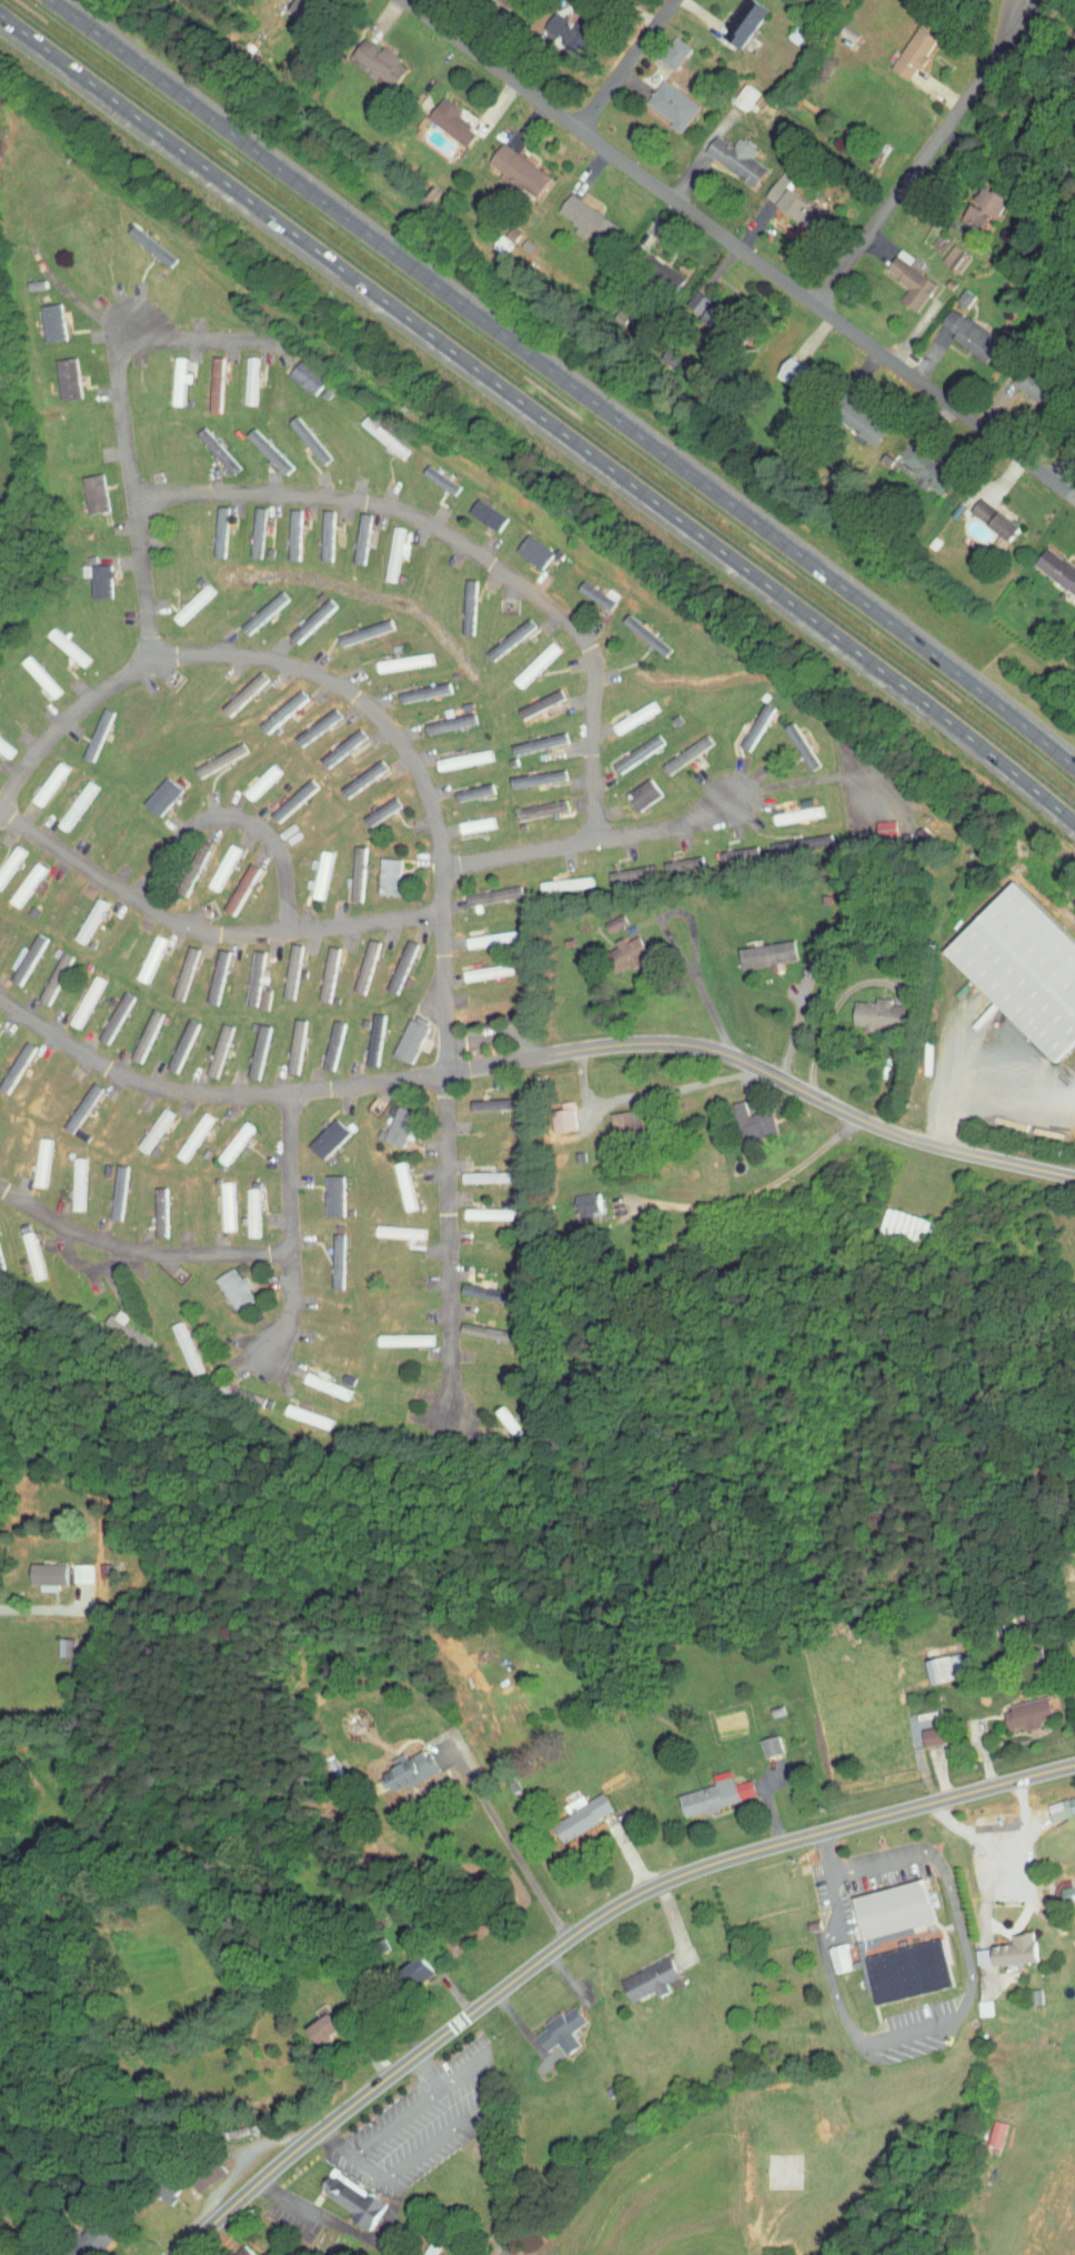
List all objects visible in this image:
building: (734, 18)
building: (562, 24)
building: (907, 46)
building: (664, 47)
building: (374, 57)
road: (623, 64)
building: (662, 98)
building: (443, 116)
building: (727, 152)
road: (924, 152)
building: (512, 168)
building: (767, 181)
building: (988, 194)
building: (794, 204)
building: (580, 213)
building: (927, 237)
building: (142, 240)
building: (940, 248)
road: (739, 249)
building: (664, 271)
building: (902, 273)
building: (955, 291)
building: (687, 293)
building: (44, 315)
building: (961, 329)
building: (295, 371)
building: (60, 372)
building: (171, 373)
building: (242, 373)
building: (204, 377)
building: (1025, 379)
road: (565, 382)
road: (121, 414)
road: (539, 415)
building: (861, 422)
building: (372, 431)
building: (300, 434)
building: (205, 443)
building: (260, 445)
building: (917, 464)
road: (1064, 465)
building: (430, 473)
building: (86, 488)
building: (478, 508)
building: (988, 513)
building: (211, 524)
building: (248, 525)
building: (283, 528)
building: (317, 529)
building: (352, 532)
road: (443, 532)
building: (524, 545)
building: (385, 547)
building: (1046, 565)
building: (89, 574)
building: (586, 590)
building: (184, 598)
building: (458, 600)
building: (254, 605)
building: (301, 613)
building: (355, 625)
building: (637, 629)
building: (501, 632)
building: (59, 641)
building: (395, 655)
building: (529, 658)
building: (32, 670)
road: (311, 674)
building: (414, 685)
building: (235, 686)
building: (529, 698)
building: (272, 705)
building: (625, 710)
building: (441, 716)
building: (307, 721)
building: (88, 728)
building: (530, 738)
building: (333, 742)
building: (2, 744)
building: (627, 746)
building: (679, 749)
building: (454, 753)
building: (210, 754)
building: (354, 772)
building: (528, 772)
building: (252, 775)
building: (40, 776)
building: (463, 785)
building: (634, 788)
building: (152, 790)
building: (283, 793)
building: (67, 799)
building: (372, 804)
building: (531, 804)
building: (787, 809)
road: (596, 810)
road: (233, 818)
building: (468, 819)
building: (868, 821)
building: (785, 838)
road: (592, 842)
building: (6, 850)
building: (729, 853)
building: (670, 859)
building: (214, 861)
building: (346, 868)
building: (622, 868)
building: (309, 870)
building: (380, 870)
building: (554, 878)
building: (231, 883)
building: (484, 890)
building: (82, 914)
building: (605, 916)
building: (483, 932)
road: (203, 934)
building: (623, 945)
building: (752, 946)
building: (17, 952)
building: (142, 952)
building: (391, 959)
building: (354, 960)
building: (1011, 963)
building: (280, 964)
building: (479, 965)
building: (174, 966)
building: (318, 968)
building: (208, 970)
building: (43, 971)
building: (245, 975)
building: (77, 994)
building: (861, 1006)
building: (104, 1011)
road: (795, 1023)
building: (135, 1029)
building: (363, 1033)
building: (400, 1034)
building: (171, 1039)
building: (321, 1039)
building: (284, 1040)
building: (208, 1043)
building: (247, 1044)
building: (9, 1056)
road: (984, 1078)
road: (351, 1089)
road: (647, 1094)
building: (482, 1098)
building: (72, 1101)
building: (559, 1113)
building: (612, 1113)
building: (735, 1114)
building: (390, 1119)
building: (145, 1123)
building: (185, 1130)
building: (319, 1132)
road: (892, 1134)
building: (227, 1136)
building: (31, 1156)
building: (480, 1171)
building: (68, 1177)
building: (396, 1180)
building: (108, 1186)
road: (751, 1189)
building: (573, 1197)
building: (217, 1200)
building: (149, 1205)
road: (448, 1205)
building: (243, 1206)
building: (478, 1207)
building: (892, 1217)
building: (392, 1226)
road: (291, 1234)
building: (22, 1250)
road: (138, 1252)
building: (326, 1255)
road: (84, 1265)
building: (225, 1282)
building: (109, 1314)
building: (390, 1333)
building: (175, 1342)
building: (311, 1379)
building: (247, 1393)
building: (72, 1566)
building: (42, 1567)
building: (57, 1640)
building: (926, 1661)
building: (1009, 1707)
building: (916, 1728)
building: (755, 1738)
building: (392, 1764)
building: (700, 1787)
building: (1053, 1798)
building: (564, 1810)
road: (999, 1840)
road: (508, 1843)
road: (827, 1847)
road: (997, 1890)
building: (874, 1903)
road: (579, 1924)
building: (993, 1944)
building: (828, 1950)
building: (413, 1963)
building: (892, 1964)
building: (633, 1973)
road: (952, 2016)
building: (320, 2022)
building: (544, 2025)
road: (395, 2118)
road: (456, 2126)
building: (981, 2126)
road: (243, 2158)
road: (494, 2183)
building: (345, 2193)
road: (346, 2231)
building: (93, 2233)
building: (418, 2252)

